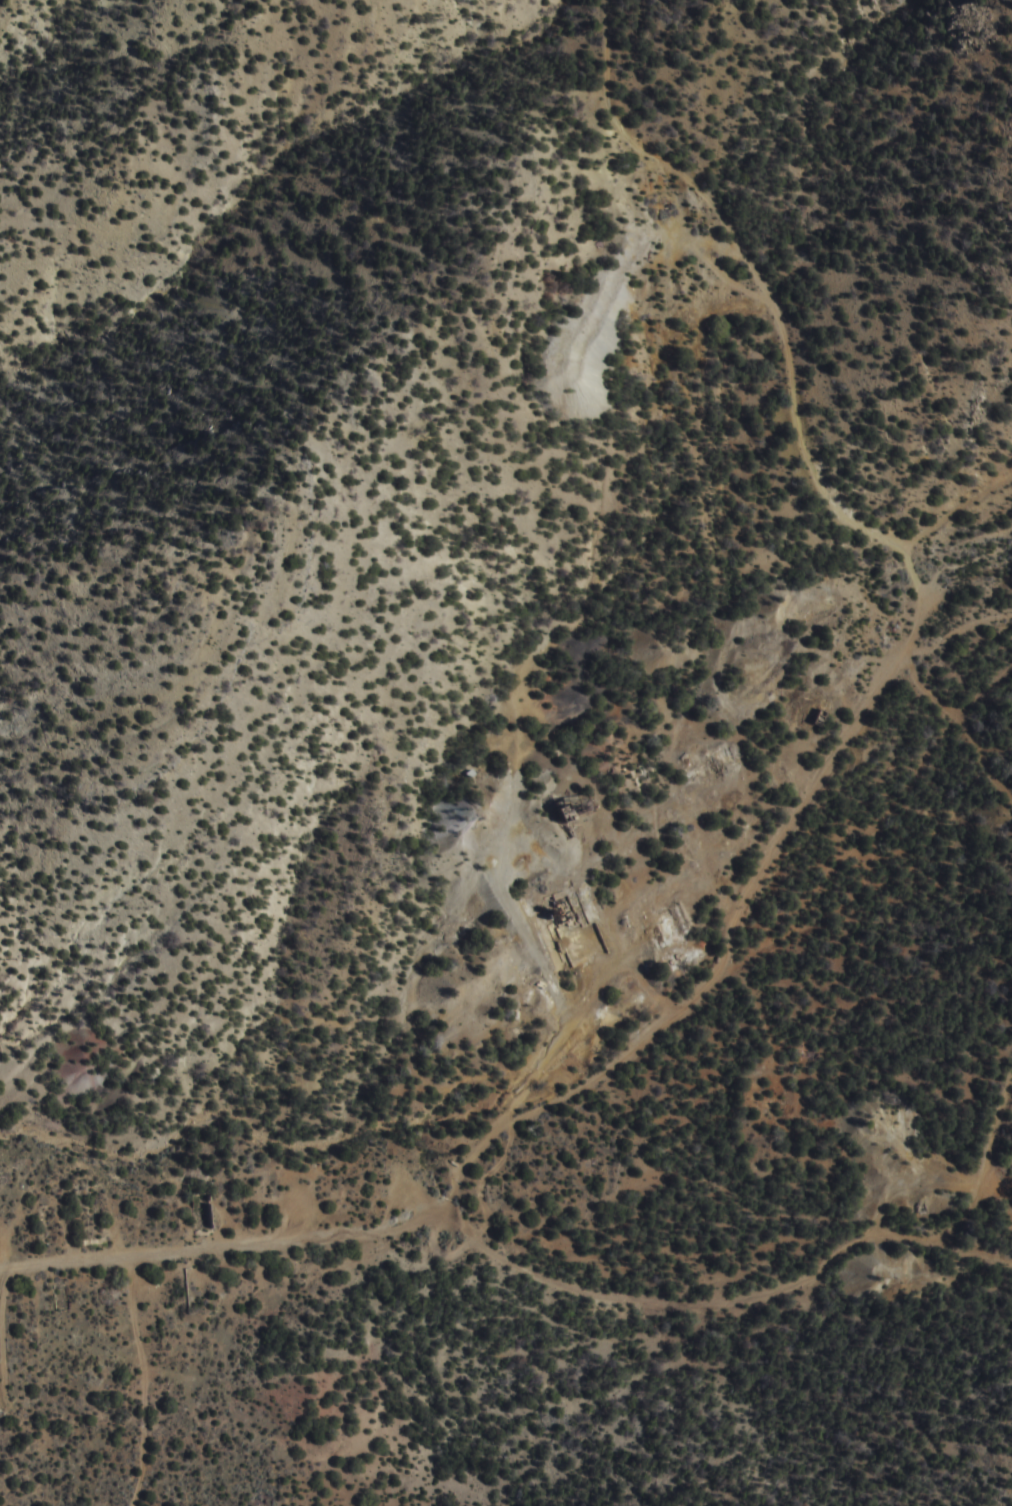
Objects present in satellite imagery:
road: (757, 272)
mineshaft: (582, 274)
mineshaft: (944, 524)
mineshaft: (633, 587)
road: (924, 645)
road: (965, 719)
mineshaft: (582, 774)
mineshaft: (582, 837)
mineshaft: (582, 899)
road: (691, 1012)
mineshaft: (219, 1087)
mineshaft: (996, 1149)
road: (978, 1191)
road: (247, 1245)
road: (753, 1314)
mineshaft: (101, 1364)
road: (142, 1381)

